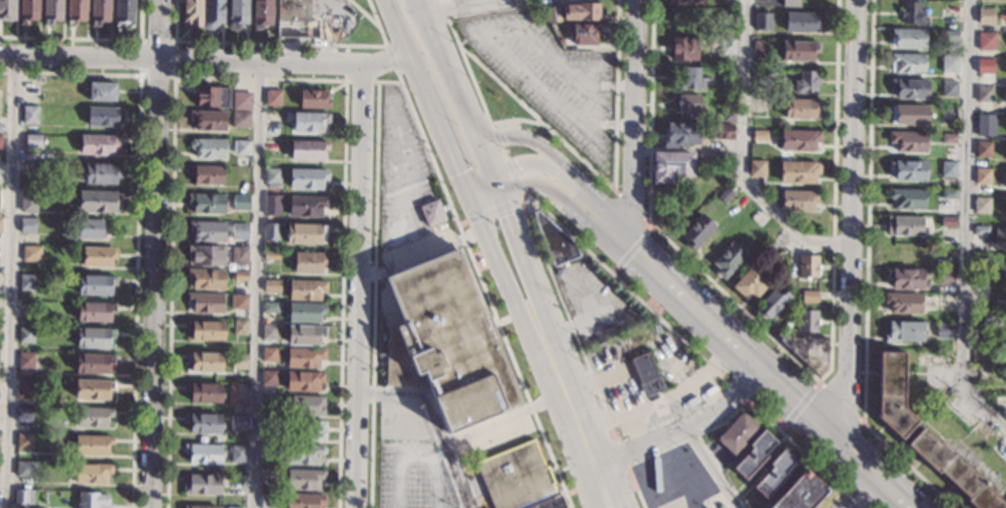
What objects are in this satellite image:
building: (449, 0)
road: (421, 2)
building: (684, 2)
building: (790, 3)
road: (459, 4)
building: (7, 10)
building: (294, 10)
building: (28, 11)
building: (51, 11)
building: (75, 12)
building: (99, 12)
building: (192, 12)
building: (581, 12)
building: (124, 13)
building: (212, 13)
building: (237, 13)
building: (262, 13)
building: (912, 14)
building: (551, 15)
building: (985, 15)
building: (802, 21)
building: (762, 22)
road: (329, 29)
building: (584, 34)
building: (950, 36)
building: (908, 38)
building: (985, 41)
road: (404, 42)
building: (726, 46)
building: (683, 48)
building: (761, 48)
building: (798, 50)
road: (174, 58)
road: (381, 63)
building: (907, 63)
building: (949, 63)
building: (984, 66)
road: (448, 69)
building: (727, 72)
building: (763, 78)
building: (689, 80)
building: (806, 82)
building: (949, 88)
building: (909, 89)
building: (31, 92)
building: (102, 92)
building: (984, 94)
building: (206, 96)
building: (273, 97)
building: (314, 99)
building: (240, 100)
building: (691, 106)
building: (801, 108)
building: (30, 114)
building: (908, 115)
building: (726, 116)
building: (104, 117)
building: (207, 120)
building: (240, 120)
building: (309, 121)
road: (632, 121)
building: (985, 125)
building: (0, 127)
building: (721, 131)
building: (683, 135)
building: (759, 135)
road: (444, 137)
building: (948, 138)
building: (33, 140)
building: (798, 140)
building: (1, 141)
building: (907, 141)
building: (98, 144)
building: (242, 147)
building: (272, 147)
building: (207, 148)
building: (982, 149)
building: (308, 150)
road: (551, 153)
road: (742, 154)
road: (485, 157)
building: (671, 166)
building: (29, 169)
building: (756, 169)
building: (947, 169)
traffic signals: (519, 170)
traffic signals: (458, 171)
building: (908, 171)
building: (798, 172)
building: (100, 173)
building: (207, 175)
building: (981, 175)
building: (272, 177)
building: (307, 178)
road: (552, 178)
building: (1005, 182)
road: (480, 185)
building: (724, 194)
building: (948, 194)
building: (906, 199)
building: (798, 200)
building: (29, 201)
building: (99, 202)
building: (240, 202)
building: (206, 203)
building: (272, 205)
building: (981, 205)
building: (306, 206)
building: (1005, 211)
building: (432, 212)
traffic signals: (508, 214)
road: (847, 222)
building: (947, 222)
road: (964, 222)
building: (0, 223)
building: (27, 225)
building: (904, 226)
building: (91, 228)
building: (980, 230)
building: (207, 231)
building: (696, 231)
building: (239, 232)
building: (271, 232)
building: (305, 234)
building: (1000, 237)
building: (554, 240)
road: (520, 248)
building: (31, 253)
road: (153, 253)
building: (946, 253)
building: (206, 255)
building: (271, 255)
building: (905, 255)
building: (99, 256)
building: (240, 256)
road: (494, 258)
building: (479, 260)
building: (727, 260)
building: (309, 262)
building: (807, 266)
building: (239, 276)
building: (945, 277)
building: (206, 279)
building: (905, 279)
road: (10, 282)
building: (750, 282)
building: (26, 284)
building: (95, 284)
road: (255, 284)
road: (357, 285)
building: (271, 286)
building: (980, 286)
building: (306, 290)
building: (809, 296)
building: (771, 300)
building: (944, 301)
building: (205, 302)
building: (240, 302)
building: (902, 303)
building: (270, 307)
building: (94, 312)
building: (305, 312)
building: (806, 321)
building: (239, 327)
building: (205, 330)
building: (943, 330)
building: (903, 331)
building: (270, 332)
building: (26, 335)
building: (305, 335)
building: (94, 338)
building: (446, 343)
building: (978, 343)
building: (808, 351)
building: (270, 355)
building: (304, 357)
building: (25, 360)
building: (239, 361)
building: (205, 362)
building: (93, 363)
road: (754, 363)
building: (646, 374)
building: (268, 378)
road: (599, 380)
building: (303, 381)
building: (24, 388)
building: (93, 389)
road: (712, 389)
building: (204, 392)
building: (236, 394)
building: (892, 394)
road: (662, 396)
building: (268, 403)
building: (307, 405)
building: (24, 412)
building: (401, 414)
road: (571, 414)
building: (93, 416)
road: (432, 419)
building: (237, 422)
building: (204, 423)
road: (504, 423)
road: (682, 426)
road: (630, 427)
building: (269, 428)
building: (308, 430)
building: (422, 433)
building: (737, 433)
building: (24, 441)
building: (92, 445)
building: (267, 451)
building: (202, 453)
building: (237, 454)
building: (304, 454)
building: (753, 455)
road: (714, 466)
building: (26, 468)
building: (954, 471)
building: (268, 473)
building: (91, 474)
building: (774, 474)
building: (514, 476)
building: (304, 479)
building: (236, 483)
building: (202, 484)
building: (800, 493)
road: (864, 493)
building: (22, 497)
building: (93, 500)
building: (305, 500)
building: (268, 501)
building: (549, 503)
building: (199, 507)
building: (233, 507)

